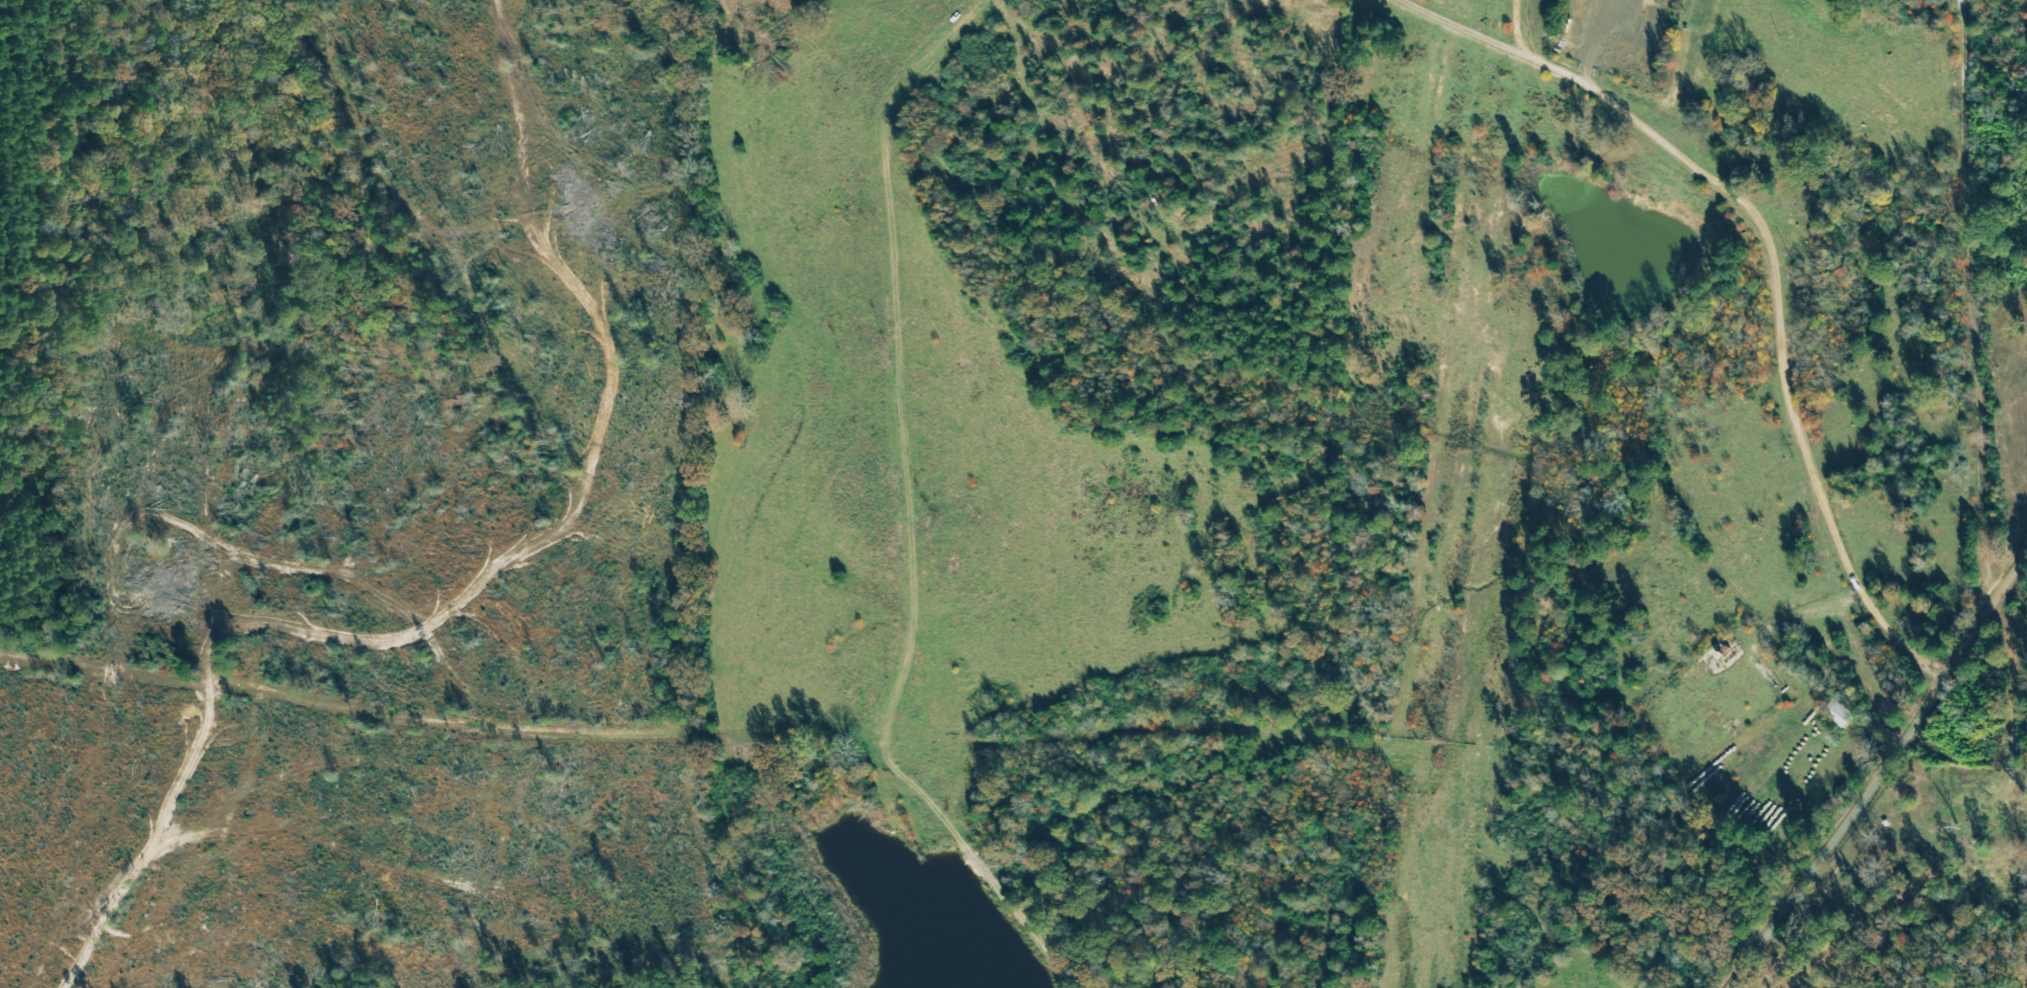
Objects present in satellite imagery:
road: (1720, 453)
building: (1839, 713)
road: (1881, 776)

